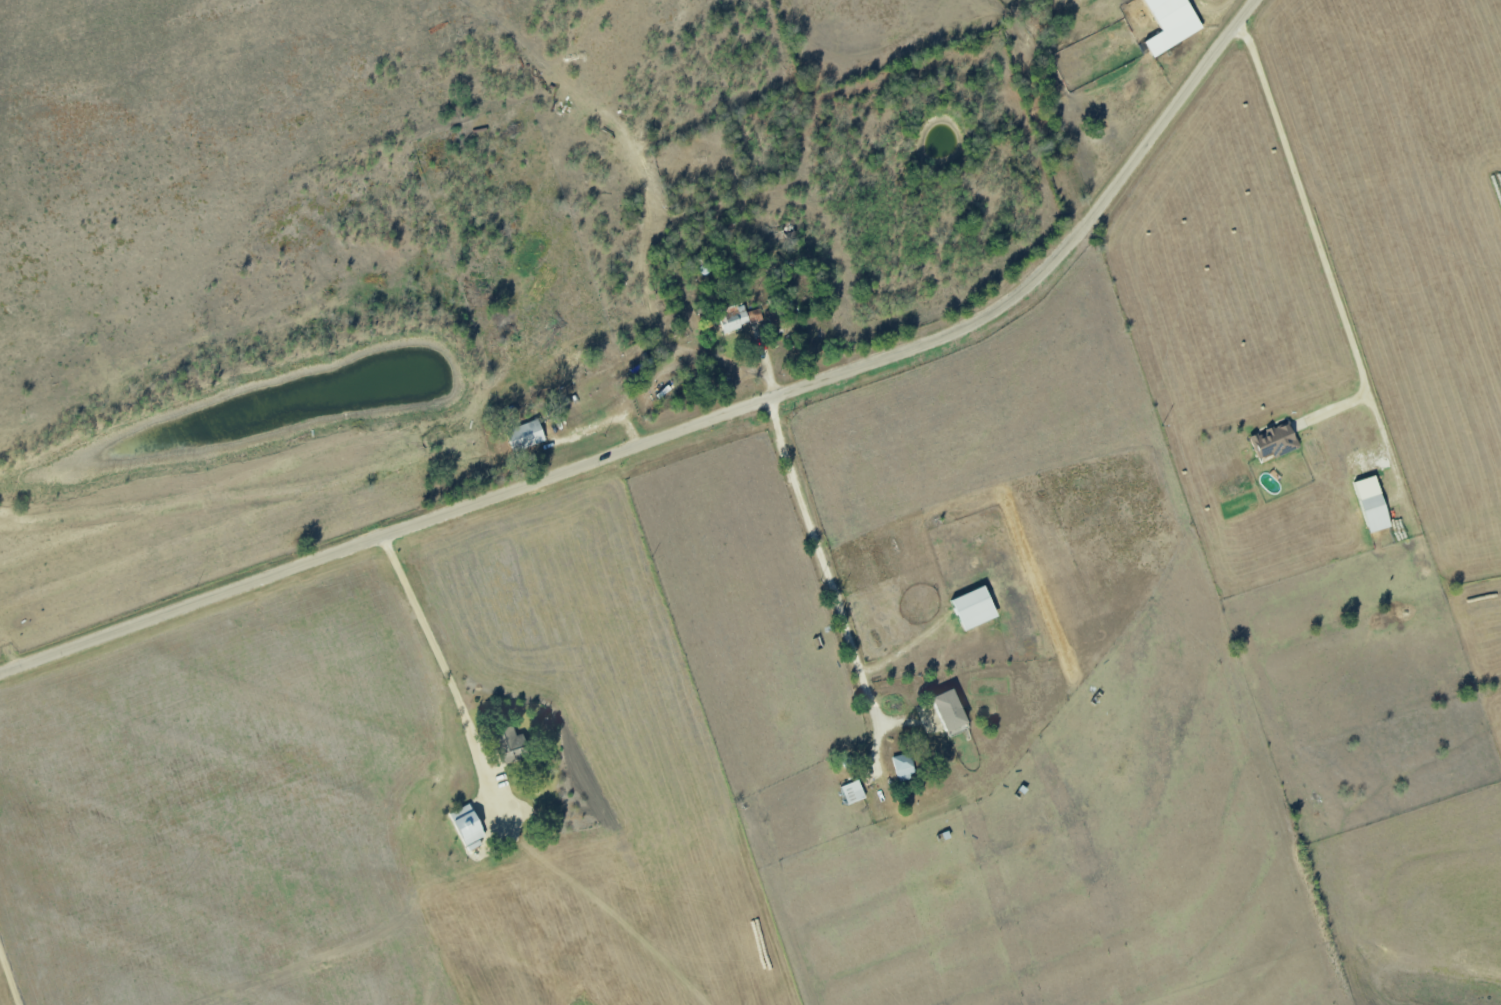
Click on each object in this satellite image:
building: (1171, 23)
road: (1313, 236)
building: (737, 315)
building: (773, 317)
road: (691, 426)
building: (525, 435)
building: (1274, 441)
building: (1373, 504)
road: (820, 552)
building: (974, 608)
road: (441, 663)
building: (950, 711)
building: (509, 745)
building: (903, 766)
building: (467, 824)
road: (7, 982)

